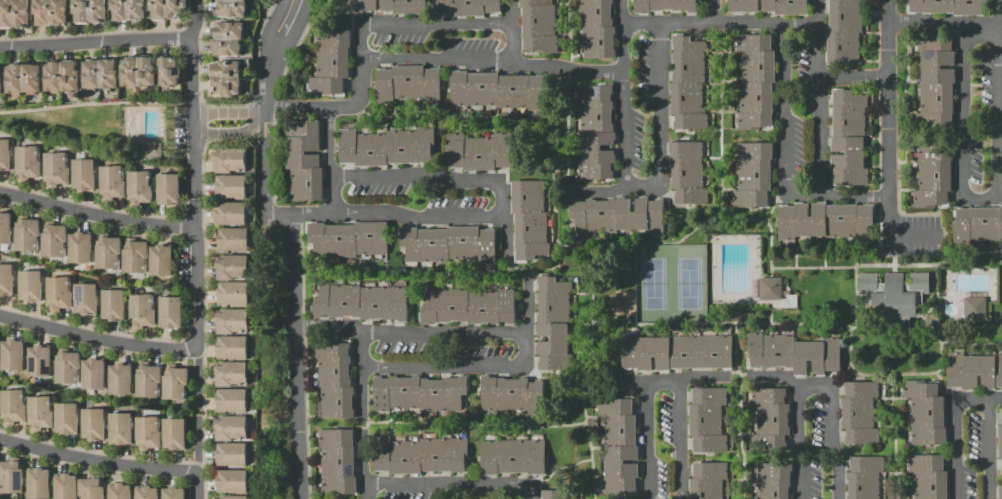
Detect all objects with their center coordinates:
building: (664, 5)
building: (741, 5)
building: (361, 6)
building: (403, 6)
building: (784, 7)
building: (949, 7)
building: (166, 8)
building: (231, 8)
building: (469, 8)
building: (126, 9)
building: (90, 10)
building: (49, 11)
road: (510, 12)
road: (996, 12)
building: (13, 13)
road: (712, 13)
road: (819, 13)
road: (954, 24)
road: (511, 25)
road: (702, 25)
building: (538, 26)
building: (596, 27)
building: (843, 32)
road: (622, 35)
building: (227, 38)
road: (95, 42)
road: (999, 52)
road: (271, 58)
building: (331, 62)
road: (565, 67)
building: (137, 71)
building: (168, 71)
building: (98, 74)
building: (60, 76)
road: (853, 77)
building: (226, 78)
building: (22, 79)
building: (756, 79)
building: (935, 80)
building: (0, 83)
building: (407, 83)
building: (687, 84)
building: (496, 89)
road: (819, 92)
road: (95, 102)
road: (335, 106)
road: (228, 113)
road: (782, 128)
road: (230, 131)
building: (596, 132)
building: (847, 138)
road: (887, 141)
building: (386, 146)
building: (150, 150)
building: (479, 152)
building: (4, 155)
road: (329, 158)
building: (304, 159)
building: (228, 160)
building: (27, 162)
road: (264, 166)
building: (55, 168)
building: (753, 173)
building: (83, 174)
building: (687, 174)
building: (932, 175)
building: (111, 181)
road: (658, 183)
building: (230, 186)
building: (139, 187)
building: (167, 189)
road: (597, 191)
road: (854, 196)
road: (964, 198)
road: (1000, 198)
road: (501, 199)
road: (195, 204)
road: (311, 212)
building: (229, 213)
road: (277, 213)
road: (97, 215)
building: (616, 215)
building: (529, 220)
building: (828, 222)
building: (978, 224)
building: (4, 227)
building: (26, 235)
building: (347, 238)
road: (506, 238)
building: (232, 239)
building: (53, 241)
building: (447, 244)
building: (79, 248)
building: (107, 253)
building: (133, 256)
building: (159, 261)
building: (230, 266)
building: (6, 280)
park: (670, 282)
building: (30, 286)
building: (771, 290)
building: (58, 293)
building: (232, 293)
building: (894, 293)
building: (85, 299)
building: (360, 302)
building: (112, 305)
building: (468, 306)
road: (527, 306)
building: (973, 309)
building: (141, 310)
building: (170, 312)
building: (230, 320)
building: (553, 324)
road: (326, 326)
road: (98, 337)
building: (231, 347)
road: (527, 348)
building: (677, 352)
building: (792, 353)
building: (11, 355)
road: (294, 356)
building: (38, 361)
building: (66, 367)
building: (973, 372)
building: (229, 373)
building: (92, 374)
road: (700, 376)
road: (774, 376)
building: (119, 379)
road: (633, 380)
road: (660, 380)
building: (146, 381)
building: (335, 381)
building: (174, 383)
road: (815, 384)
building: (418, 393)
building: (511, 393)
building: (230, 400)
road: (995, 400)
building: (12, 406)
road: (361, 408)
building: (39, 412)
road: (197, 412)
building: (858, 413)
building: (925, 414)
building: (65, 418)
building: (706, 420)
building: (770, 420)
building: (92, 424)
building: (229, 427)
building: (119, 428)
building: (147, 432)
road: (952, 432)
building: (173, 434)
building: (999, 441)
building: (618, 446)
road: (987, 450)
building: (229, 454)
building: (419, 455)
road: (197, 457)
building: (511, 457)
road: (97, 460)
building: (338, 462)
building: (11, 476)
building: (928, 476)
building: (864, 477)
building: (707, 480)
building: (772, 480)
building: (231, 481)
building: (38, 483)
building: (65, 487)
road: (453, 487)
building: (90, 488)
building: (119, 491)
road: (365, 492)
building: (1000, 492)
building: (146, 493)
building: (173, 493)
building: (559, 494)
building: (232, 497)

